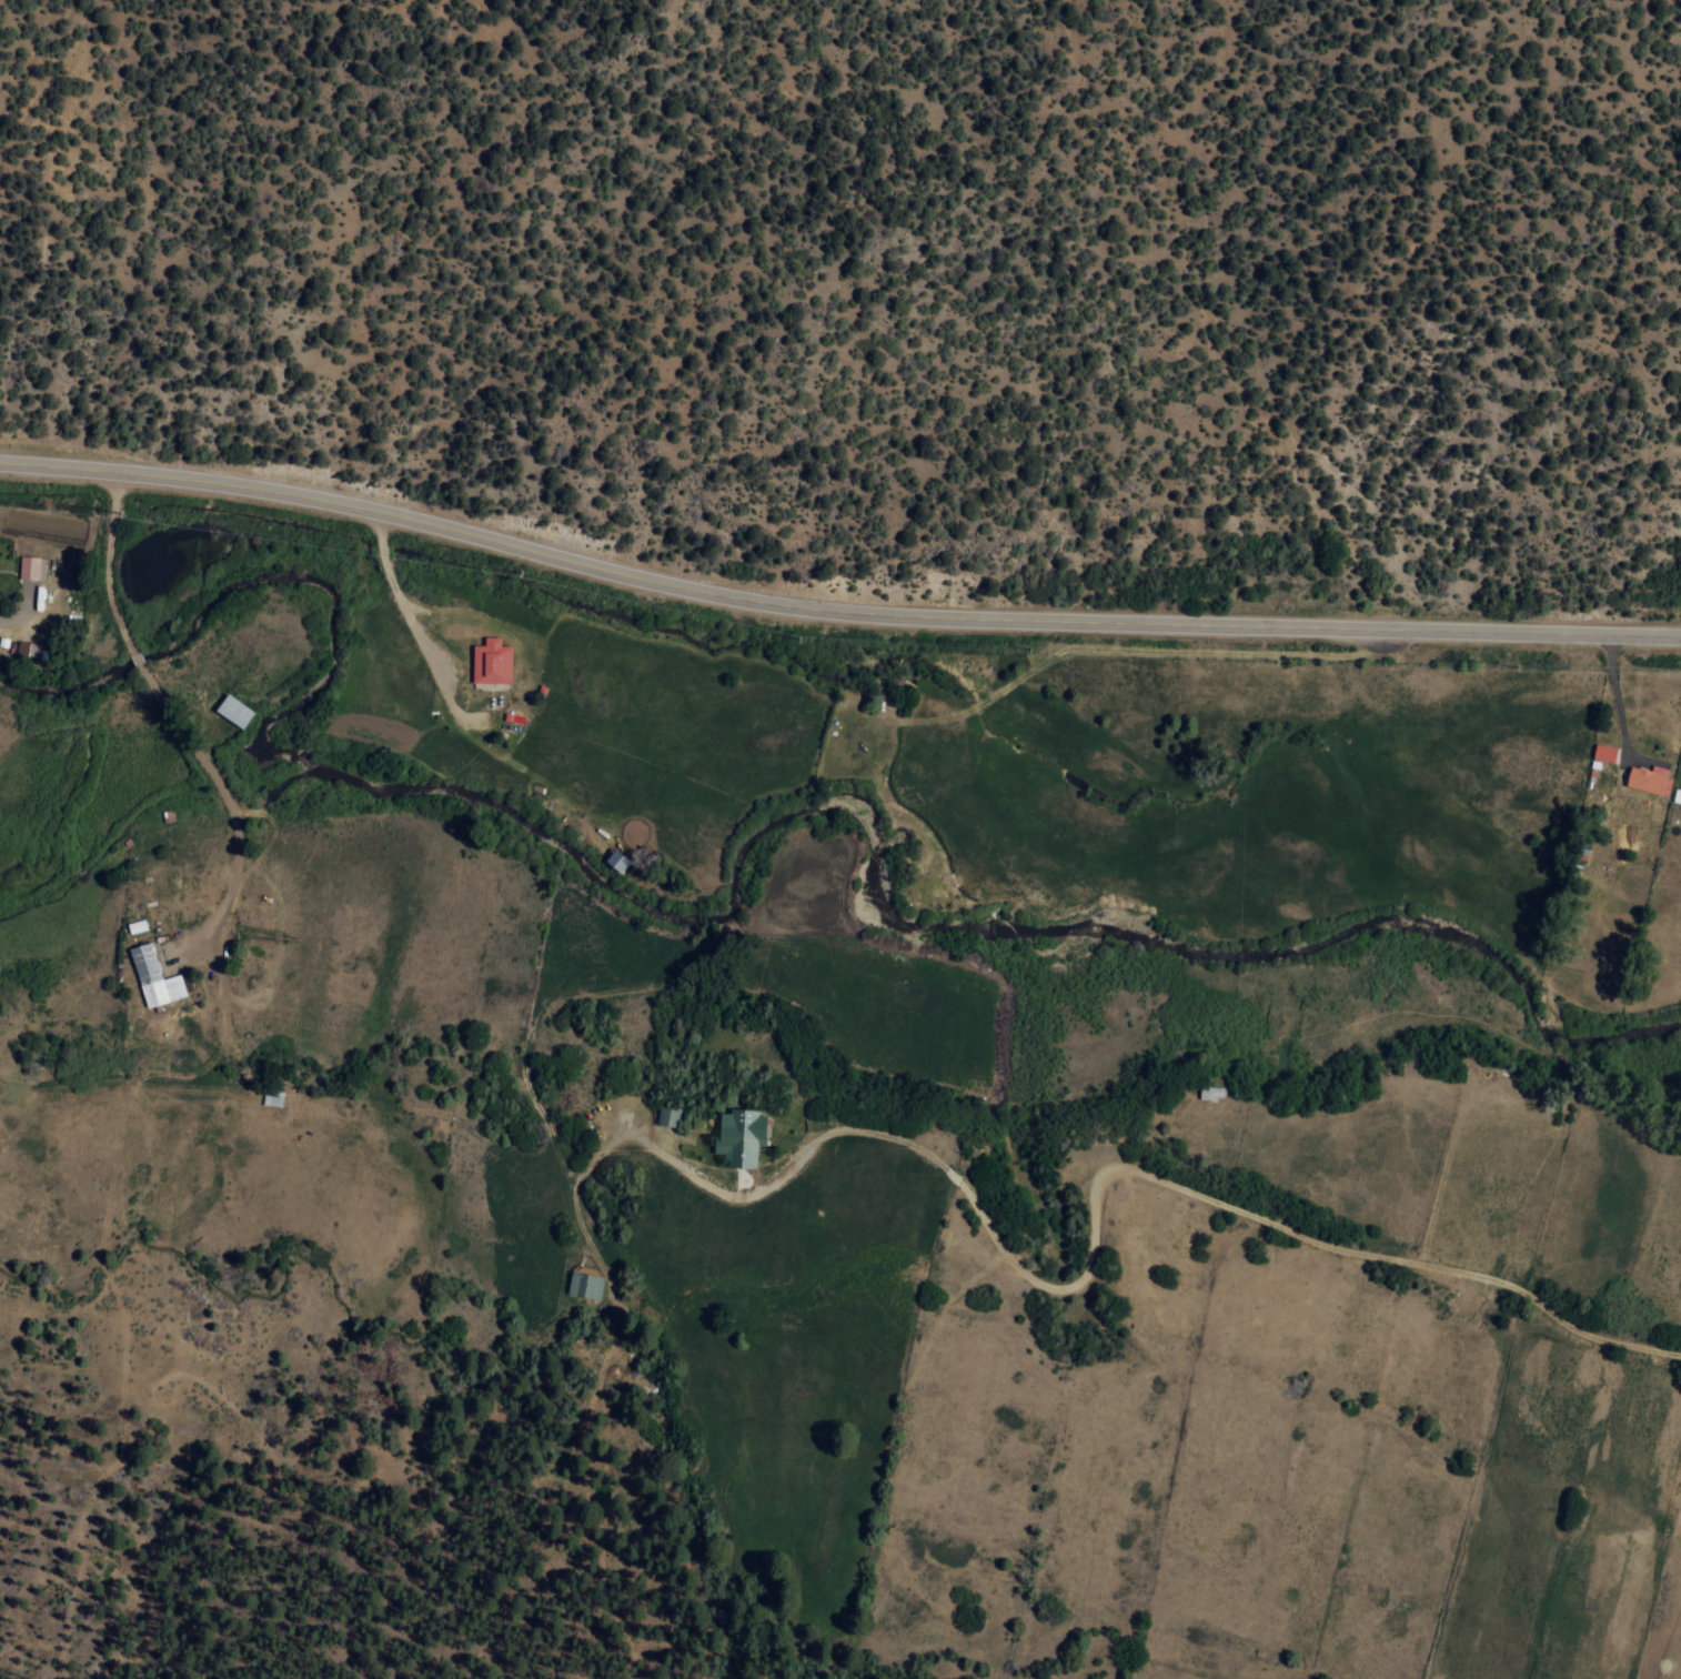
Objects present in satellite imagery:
building: (30, 567)
road: (833, 610)
building: (28, 650)
building: (491, 662)
building: (233, 712)
building: (1604, 753)
building: (1650, 780)
building: (1677, 796)
building: (616, 858)
river: (745, 868)
building: (154, 977)
building: (667, 1115)
building: (739, 1136)
building: (585, 1285)
road: (1389, 1299)

